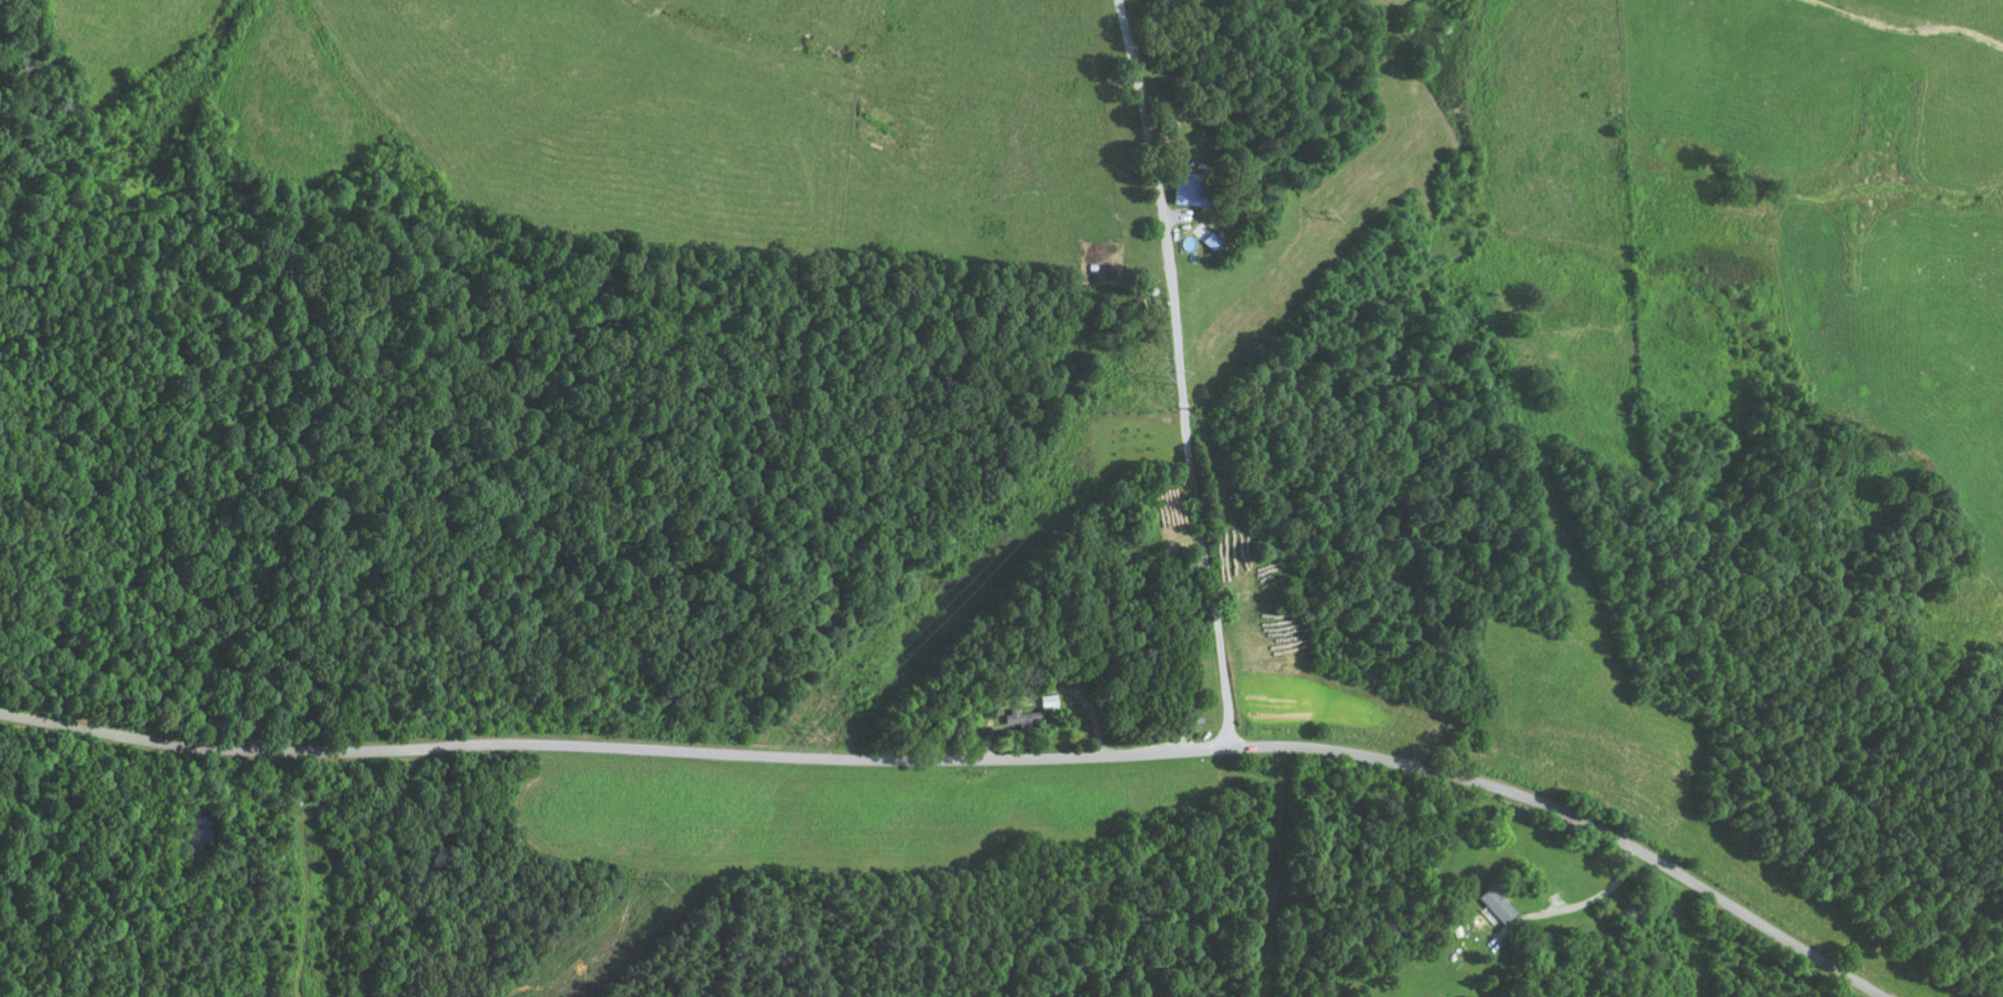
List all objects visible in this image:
road: (1171, 88)
building: (1187, 191)
building: (1211, 242)
road: (1186, 426)
building: (1048, 702)
road: (969, 759)
building: (1496, 905)

